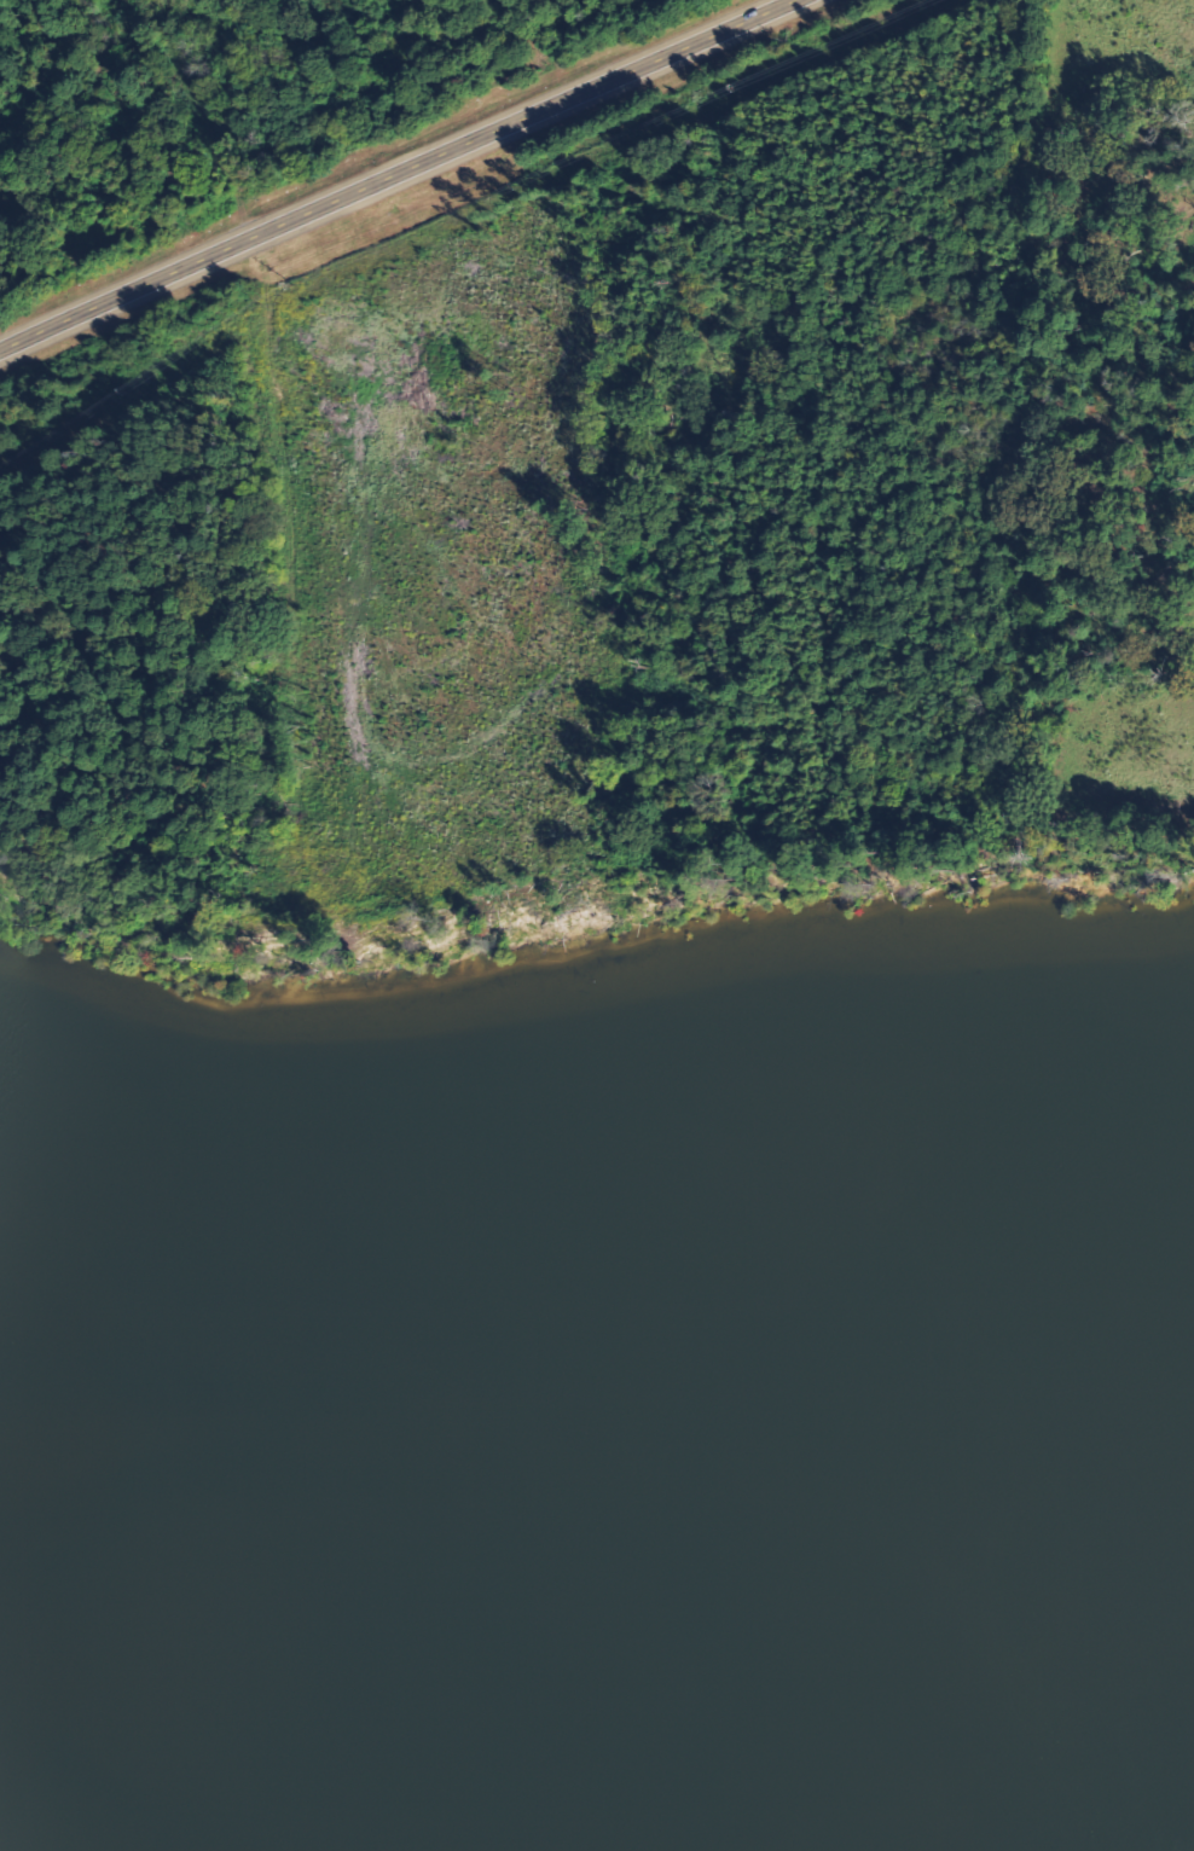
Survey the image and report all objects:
road: (399, 175)

